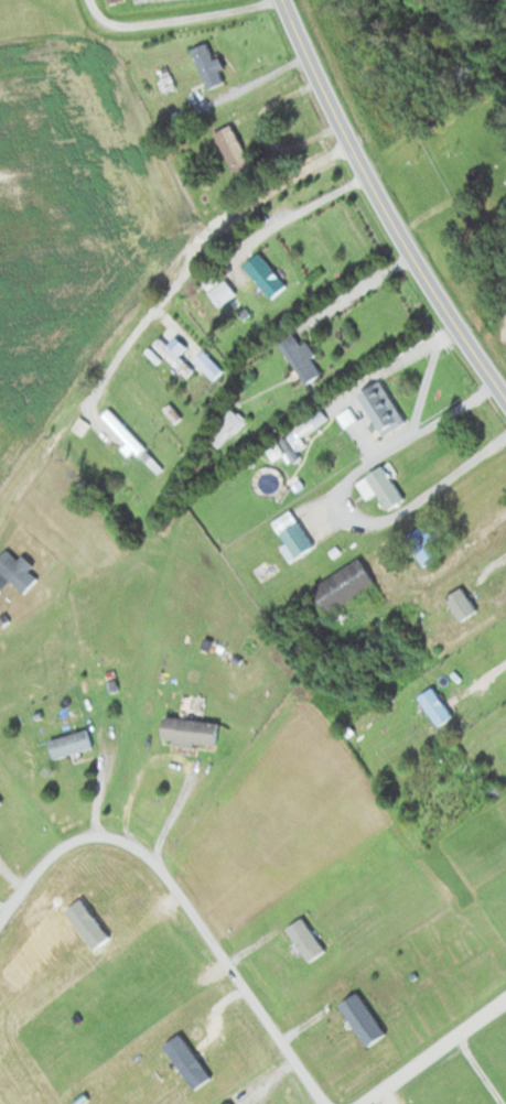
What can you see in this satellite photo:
road: (172, 15)
building: (207, 64)
building: (232, 149)
road: (381, 206)
road: (287, 214)
building: (263, 273)
building: (237, 279)
building: (220, 291)
road: (151, 309)
building: (172, 355)
building: (298, 355)
road: (398, 355)
building: (206, 364)
road: (419, 375)
building: (144, 404)
building: (380, 405)
building: (305, 423)
building: (228, 424)
building: (268, 479)
building: (380, 486)
road: (337, 500)
road: (474, 532)
building: (291, 535)
building: (422, 544)
road: (492, 562)
building: (342, 584)
building: (464, 600)
road: (485, 671)
building: (213, 693)
building: (189, 728)
building: (68, 742)
road: (171, 759)
building: (192, 776)
building: (492, 788)
road: (183, 898)
road: (430, 1048)
road: (473, 1069)

